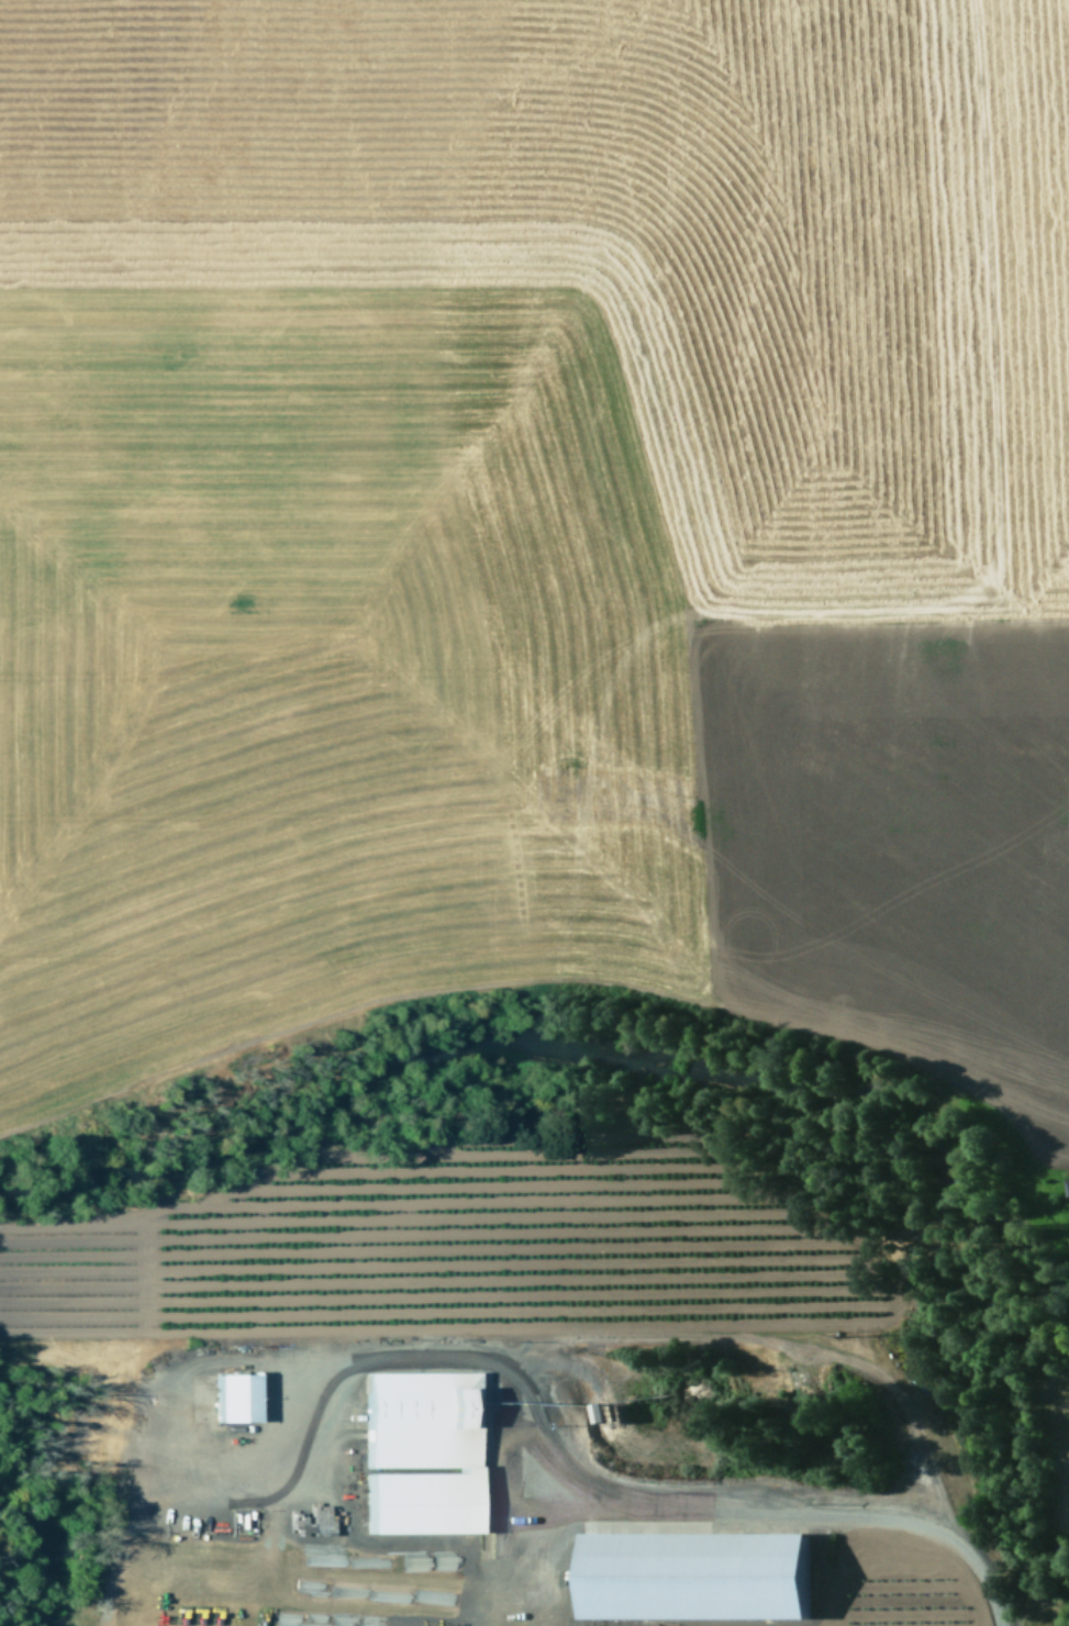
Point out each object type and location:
crop: (536, 519)
building: (238, 1396)
building: (699, 1574)

